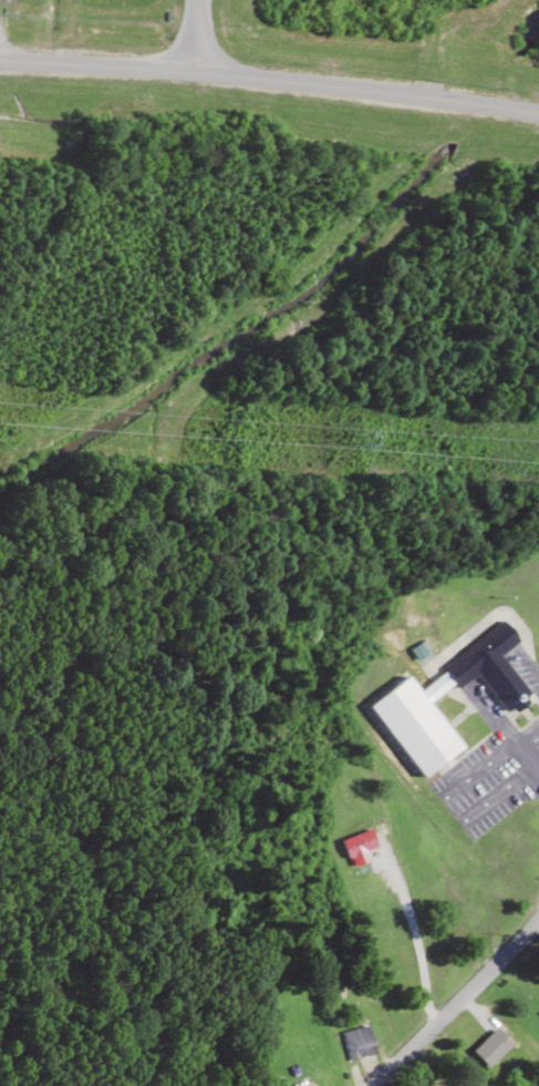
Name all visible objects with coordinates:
road: (195, 35)
road: (270, 80)
building: (487, 666)
building: (360, 846)
road: (450, 1001)
building: (359, 1042)
building: (491, 1046)

